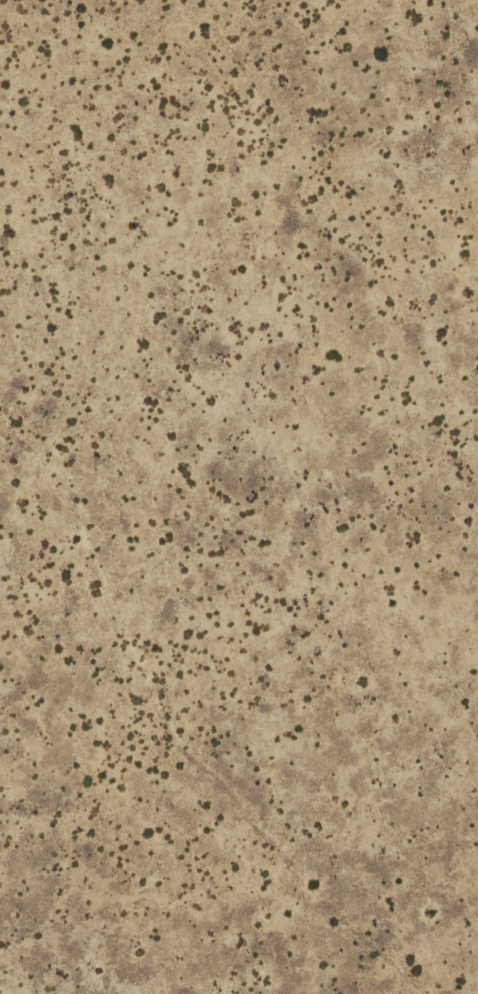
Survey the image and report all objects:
road: (158, 707)

